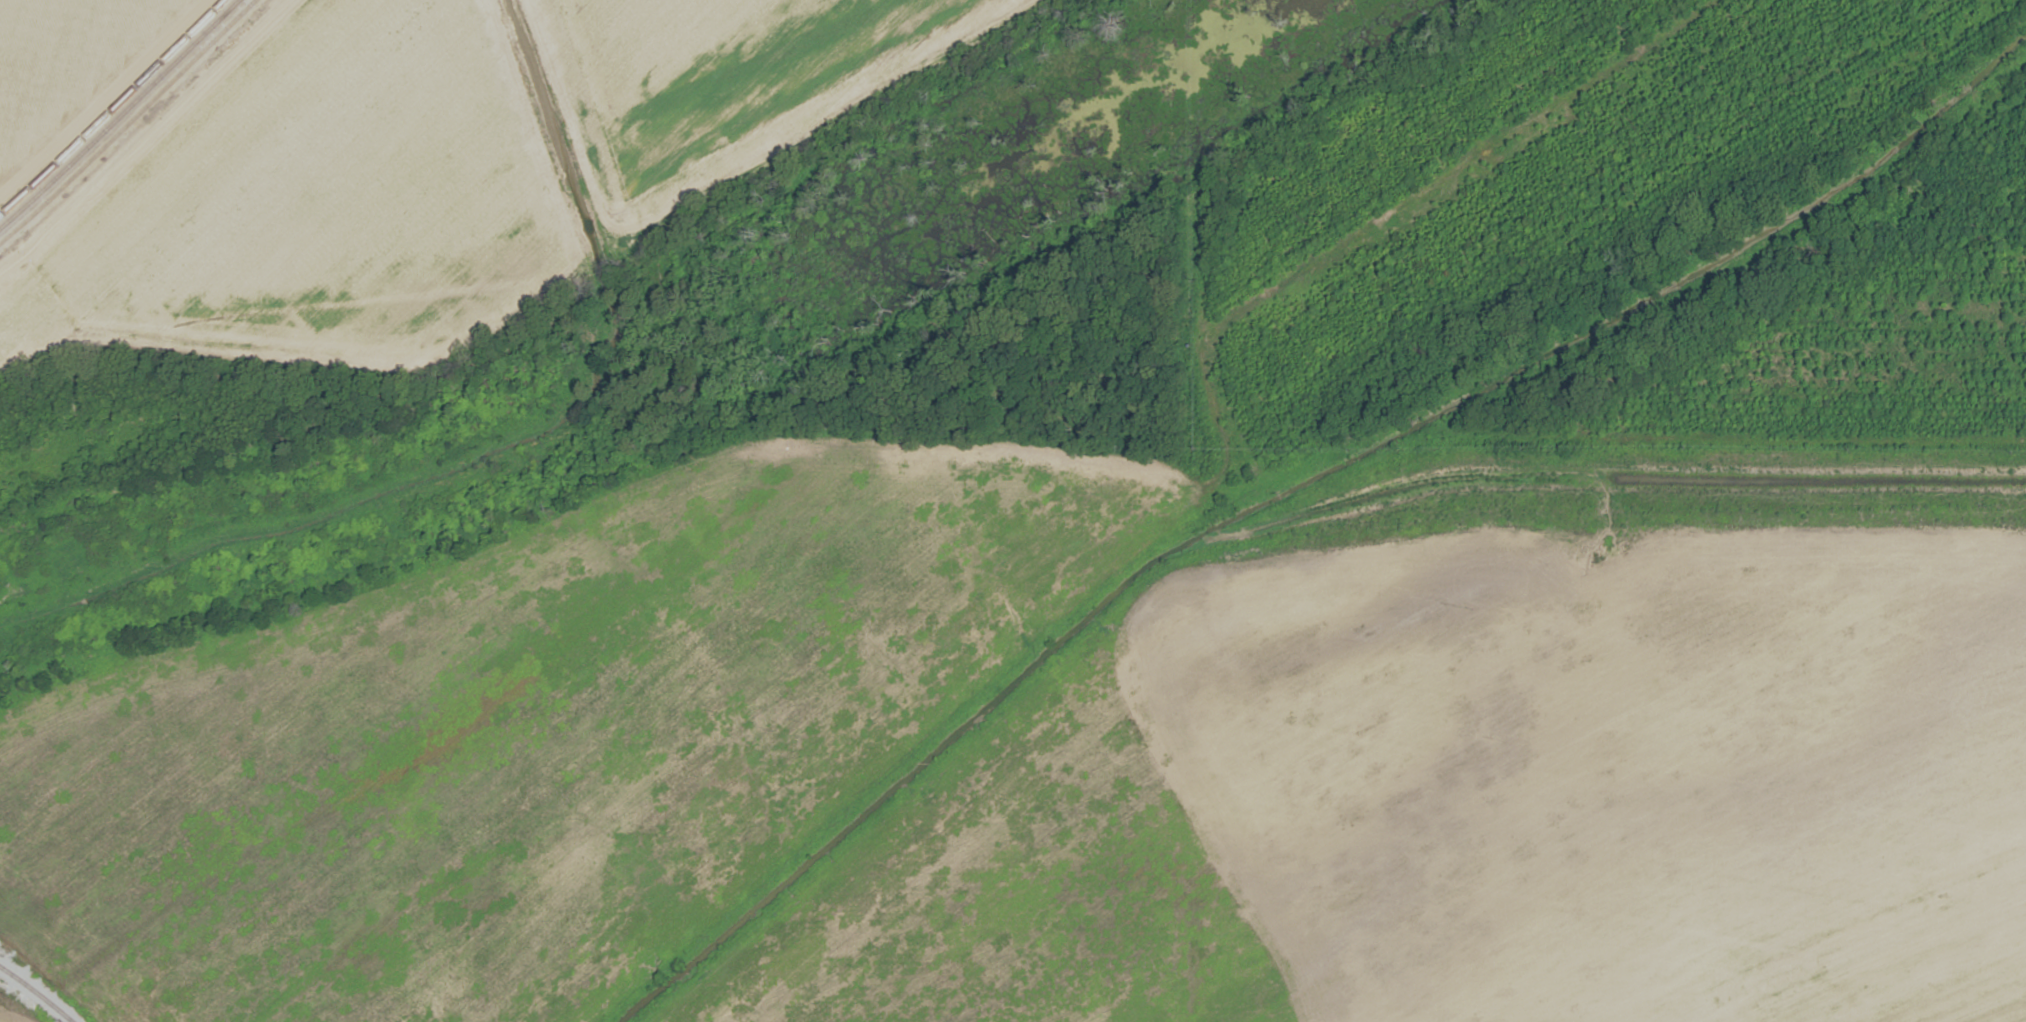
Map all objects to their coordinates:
road: (99, 96)
railway: (110, 106)
railway: (117, 114)
railway: (126, 120)
road: (142, 130)
railway: (36, 993)

